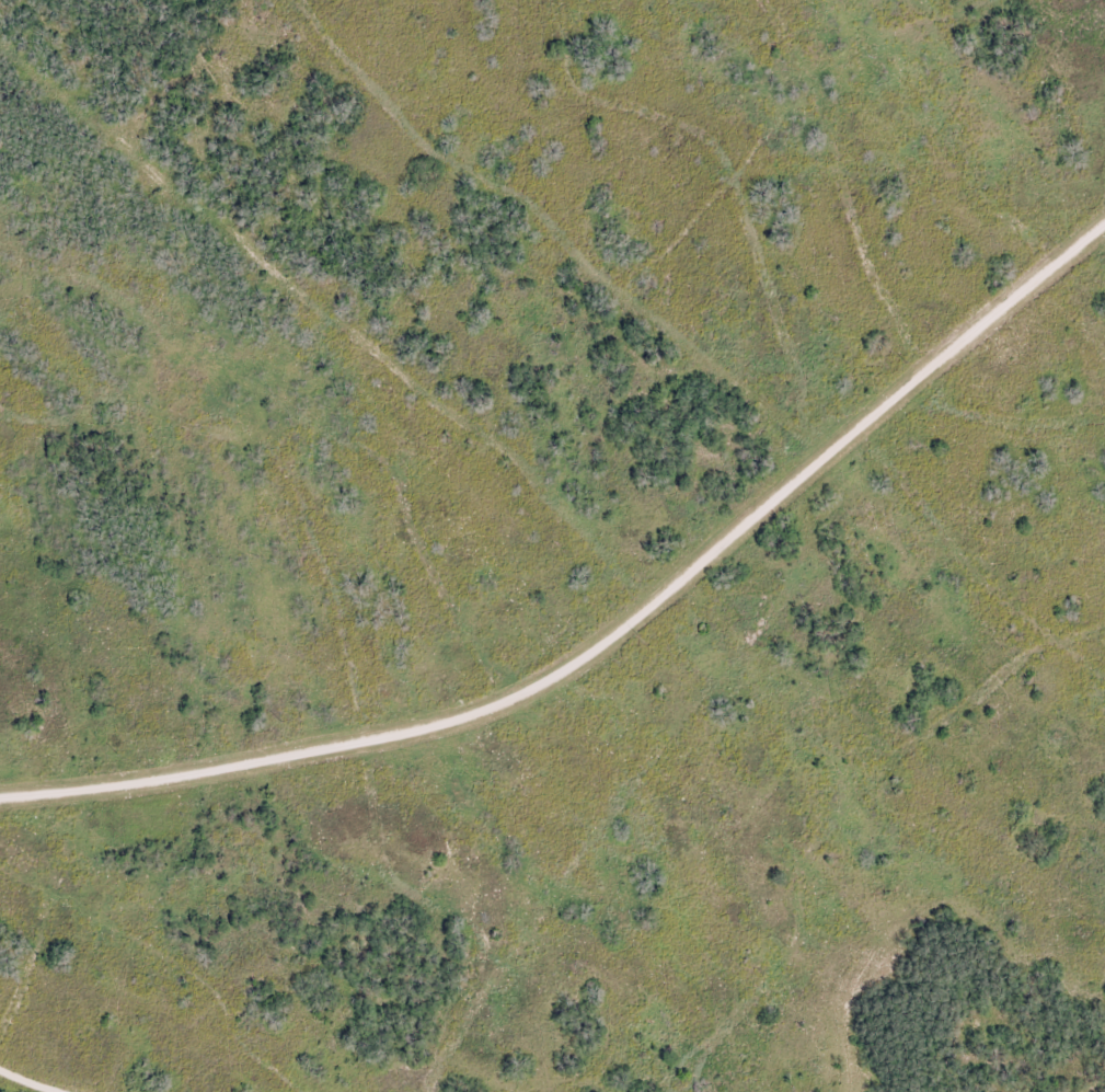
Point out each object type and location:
road: (612, 634)
road: (120, 1055)

